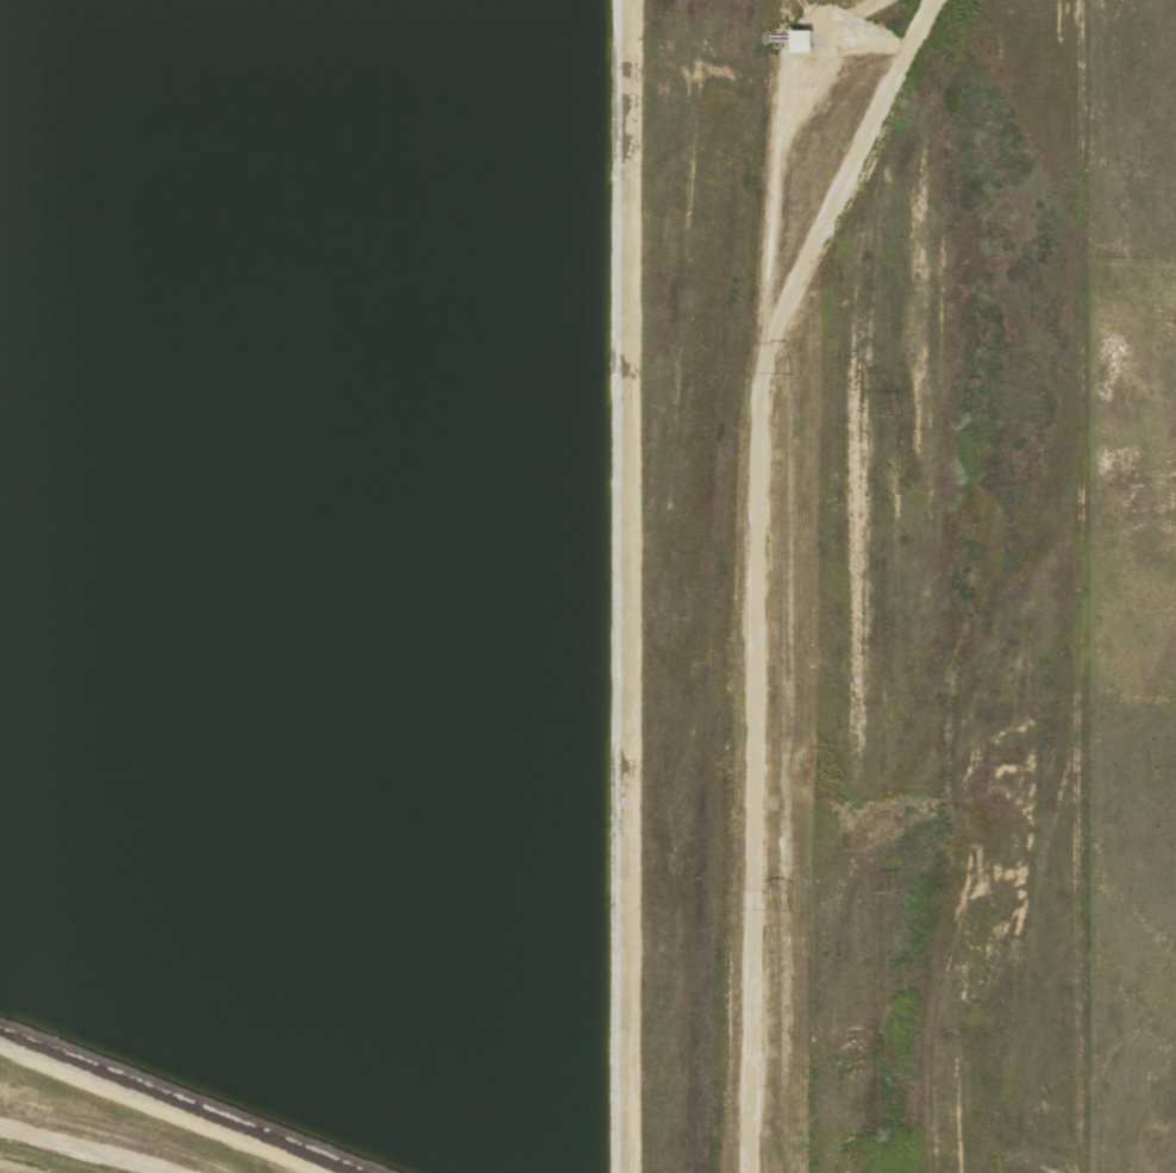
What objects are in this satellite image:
power tower: (775, 376)
power tower: (887, 426)
power plant: (543, 586)
power tower: (887, 905)
power tower: (776, 911)

